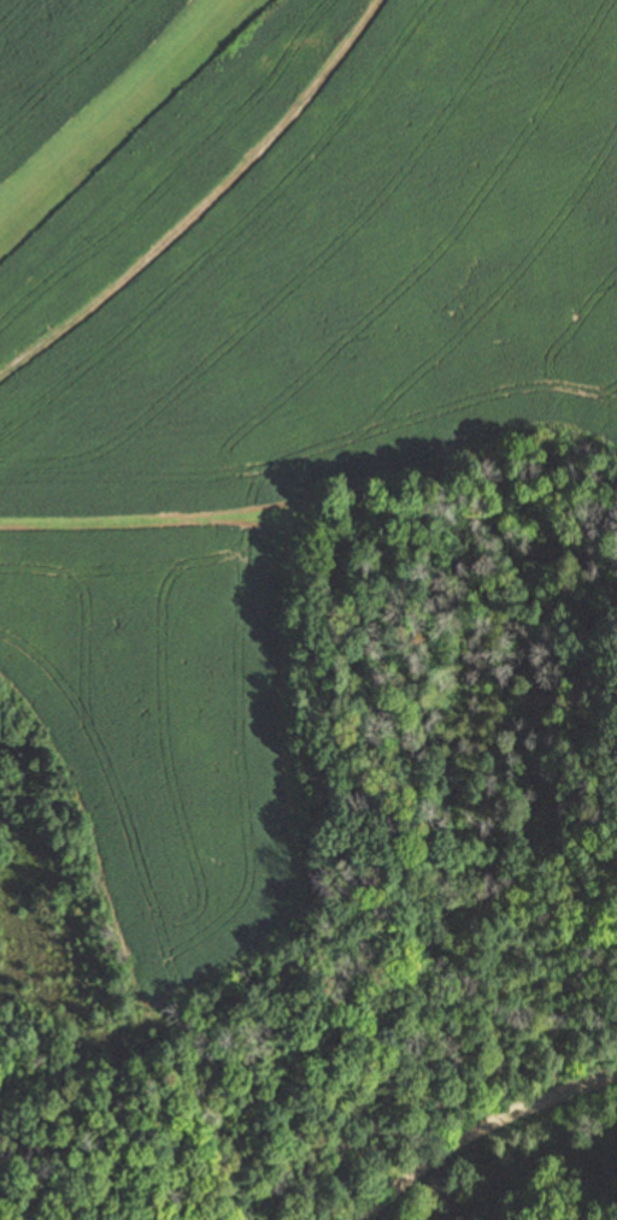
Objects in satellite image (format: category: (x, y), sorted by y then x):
airport runway: (124, 111)
road: (204, 202)
crop: (166, 730)
road: (478, 1132)

